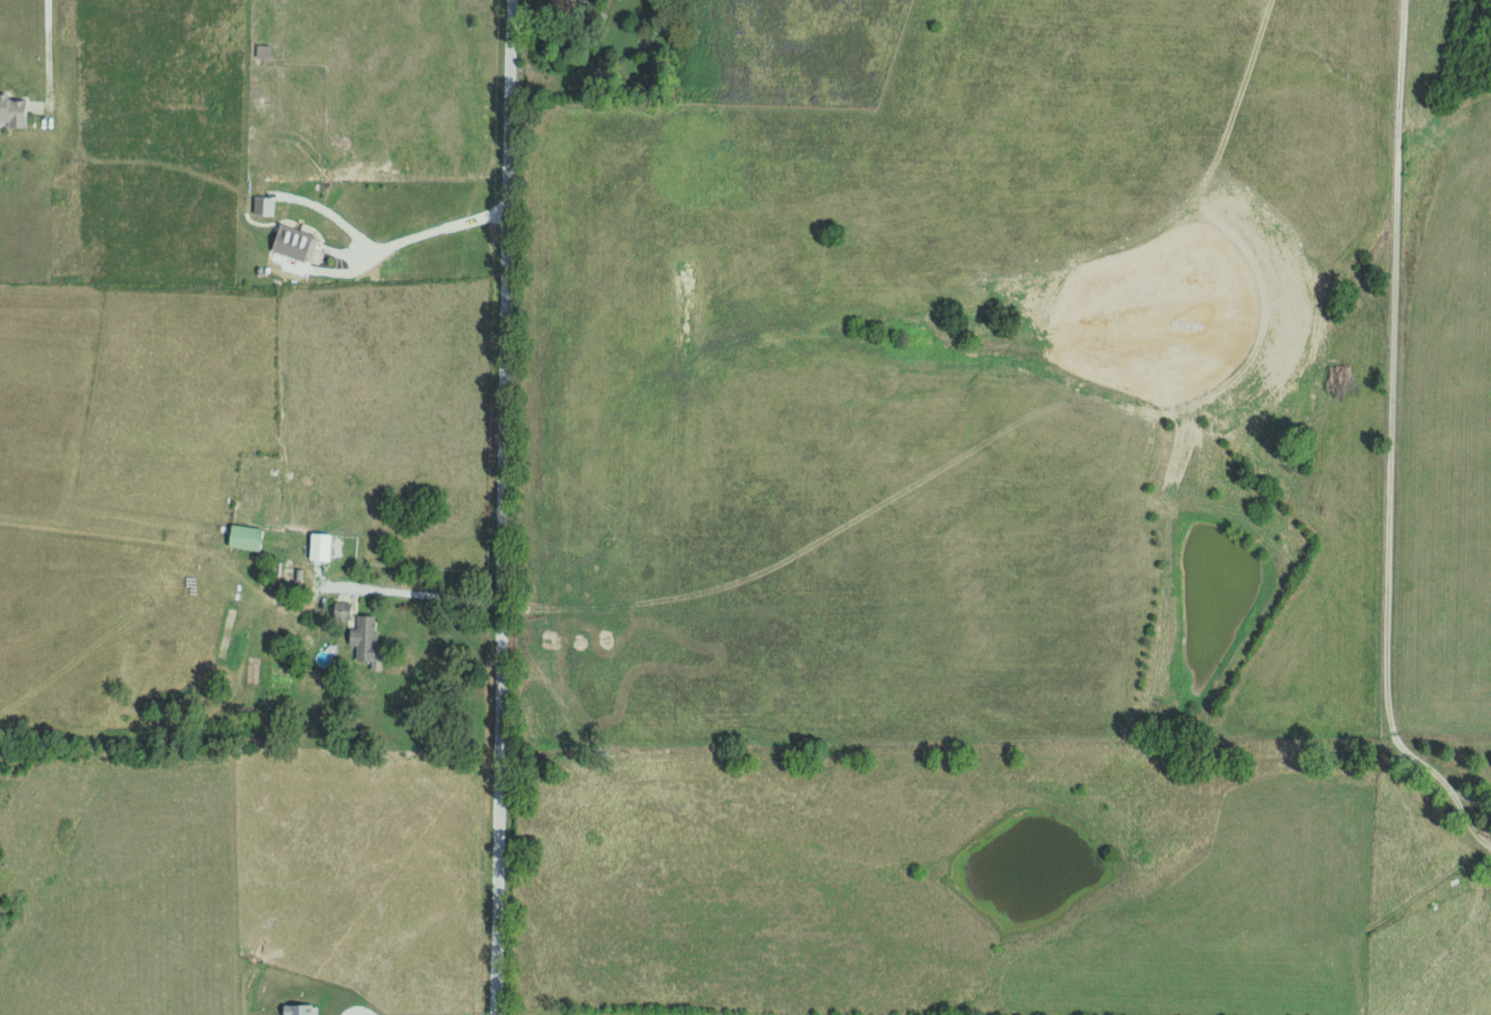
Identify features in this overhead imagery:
road: (52, 54)
building: (11, 110)
building: (261, 204)
building: (292, 242)
road: (390, 253)
road: (1392, 409)
road: (281, 434)
road: (506, 507)
building: (242, 536)
building: (317, 546)
road: (343, 582)
building: (340, 610)
building: (365, 641)
road: (955, 768)
road: (1462, 801)
building: (300, 1010)

